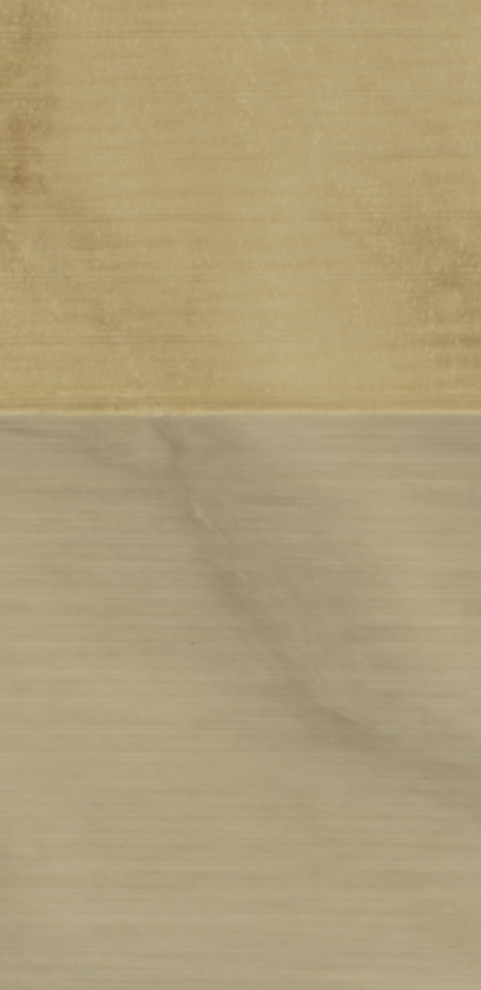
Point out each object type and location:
crop: (240, 495)

